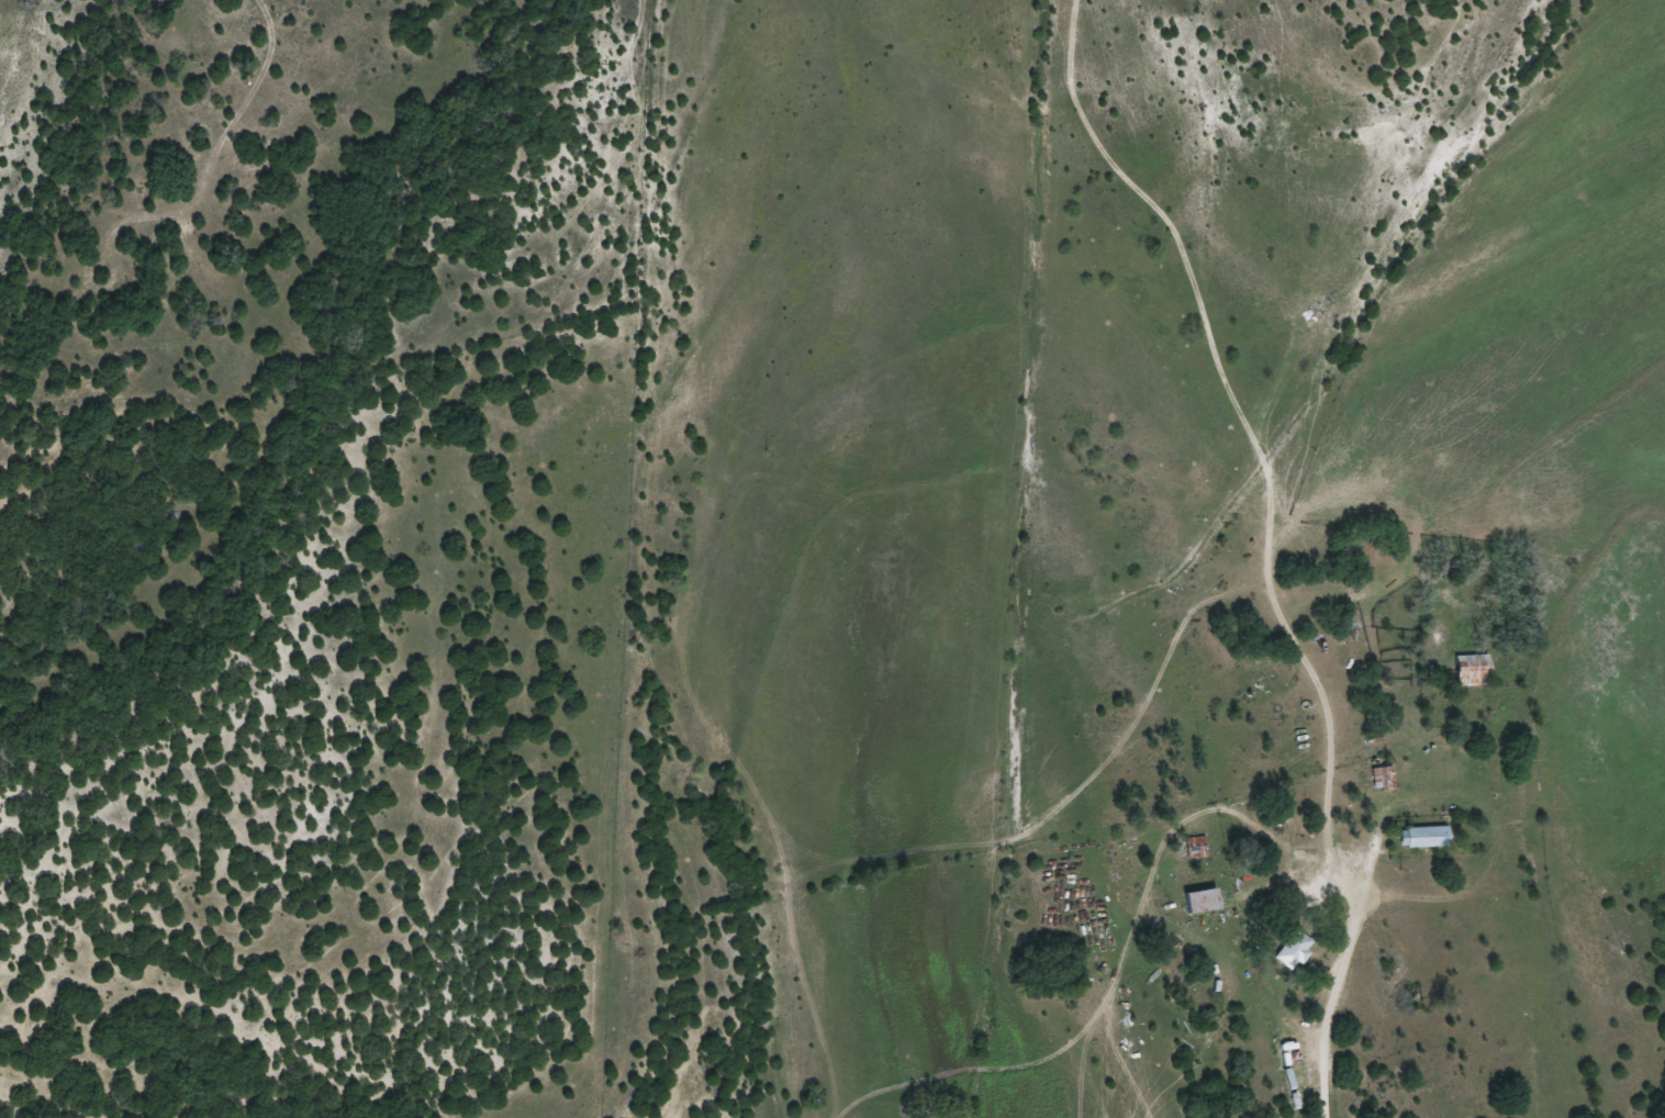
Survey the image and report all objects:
building: (1472, 670)
building: (1424, 837)
building: (1196, 847)
building: (1202, 901)
building: (1293, 950)
road: (1318, 1027)

